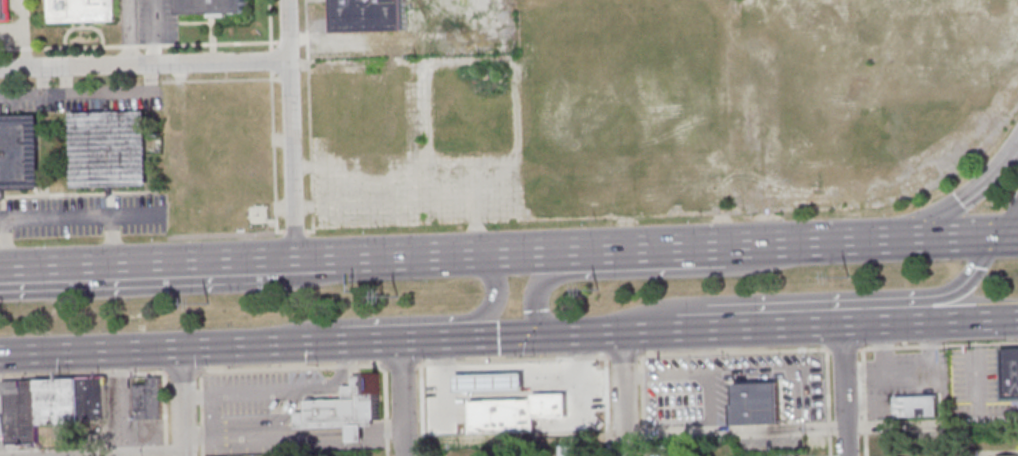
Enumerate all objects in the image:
building: (210, 6)
building: (1, 9)
building: (79, 10)
building: (368, 15)
road: (270, 23)
road: (126, 32)
road: (152, 32)
road: (24, 34)
road: (224, 42)
road: (143, 44)
road: (153, 44)
road: (130, 45)
road: (75, 46)
road: (10, 48)
road: (25, 48)
road: (271, 59)
road: (144, 65)
road: (283, 78)
road: (220, 79)
road: (63, 81)
road: (40, 82)
road: (86, 93)
road: (309, 119)
road: (289, 127)
building: (106, 149)
building: (17, 152)
road: (274, 154)
road: (961, 197)
road: (55, 218)
road: (1007, 218)
road: (1, 220)
road: (294, 231)
road: (1007, 234)
traffic signals: (996, 235)
road: (943, 236)
traffic signals: (891, 238)
road: (816, 241)
road: (655, 247)
road: (511, 251)
road: (267, 255)
road: (399, 256)
road: (95, 261)
road: (642, 272)
power tower: (848, 276)
road: (964, 280)
road: (173, 284)
power tower: (598, 289)
road: (492, 295)
power tower: (397, 296)
power tower: (208, 303)
road: (973, 320)
road: (796, 326)
road: (633, 331)
road: (537, 335)
traffic signals: (545, 335)
road: (435, 339)
road: (372, 340)
road: (335, 341)
road: (293, 342)
road: (880, 347)
road: (131, 348)
road: (608, 357)
road: (750, 368)
road: (906, 368)
road: (510, 369)
road: (181, 371)
road: (676, 372)
building: (1008, 374)
road: (82, 375)
parking lot: (973, 375)
parking lot: (900, 377)
building: (493, 386)
road: (976, 387)
road: (842, 390)
road: (279, 391)
road: (622, 393)
road: (400, 397)
building: (145, 398)
parking lot: (685, 400)
building: (89, 401)
road: (181, 401)
road: (862, 401)
building: (54, 402)
road: (825, 403)
road: (639, 405)
building: (753, 405)
road: (604, 406)
building: (914, 407)
building: (343, 408)
road: (385, 410)
road: (421, 410)
building: (18, 412)
road: (199, 413)
road: (164, 414)
building: (519, 416)
road: (208, 417)
road: (931, 424)
road: (733, 431)
road: (381, 433)
road: (353, 434)
road: (264, 436)
parking lot: (768, 444)
building: (679, 449)
building: (564, 450)
building: (968, 452)
road: (96, 453)
building: (1008, 455)

